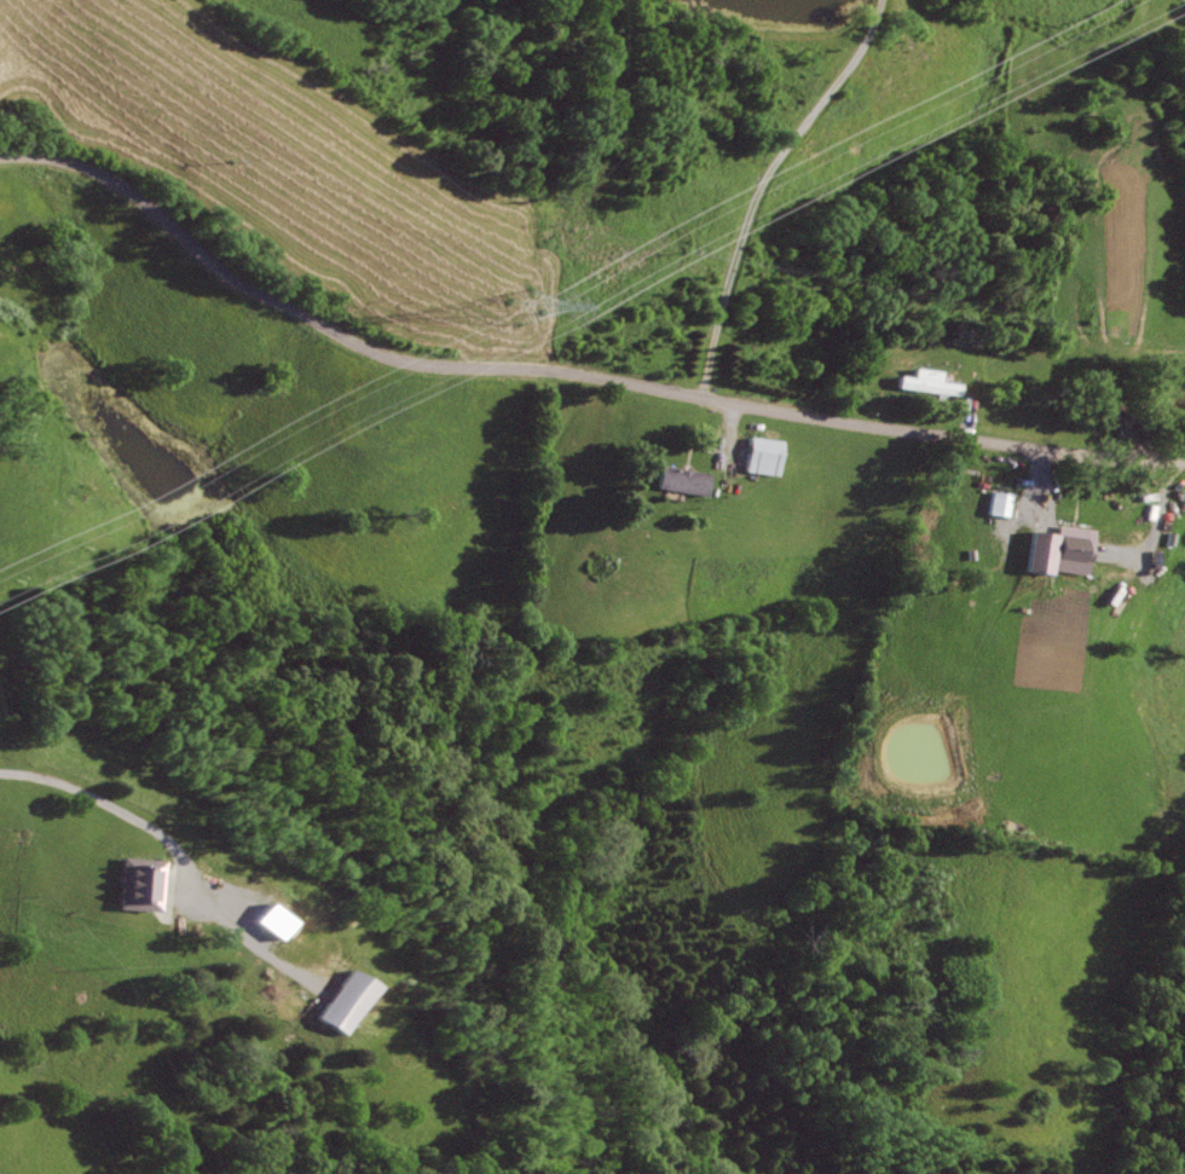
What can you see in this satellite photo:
road: (755, 185)
power tower: (528, 306)
road: (567, 375)
building: (926, 383)
building: (761, 456)
building: (680, 481)
building: (998, 504)
building: (1056, 550)
road: (110, 806)
building: (133, 886)
building: (264, 923)
building: (342, 1002)

